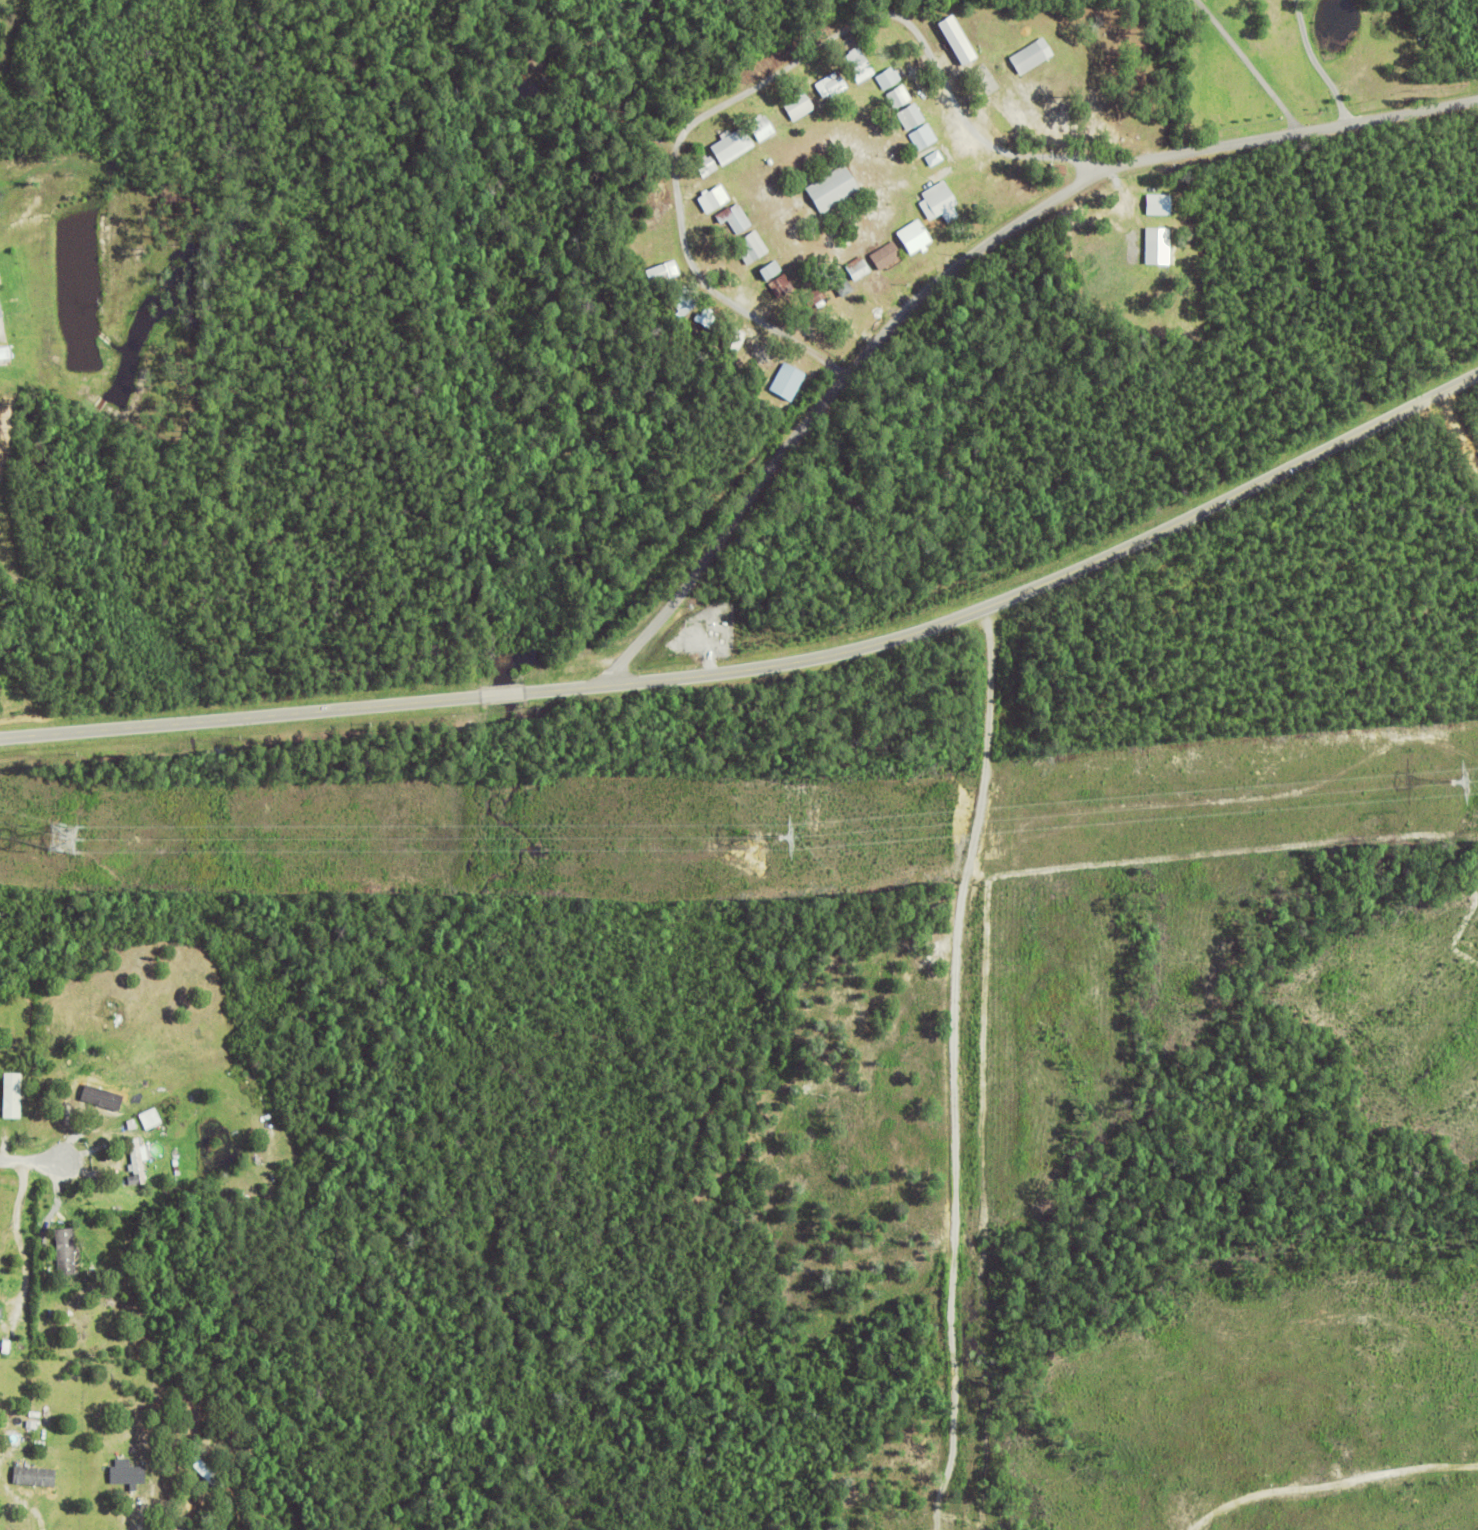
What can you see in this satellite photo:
building: (951, 39)
building: (856, 40)
building: (1029, 60)
building: (860, 66)
road: (1249, 66)
road: (772, 74)
building: (888, 79)
building: (832, 86)
building: (900, 99)
building: (798, 106)
building: (912, 118)
building: (763, 129)
building: (925, 137)
building: (733, 147)
building: (934, 159)
building: (707, 168)
building: (834, 190)
building: (714, 201)
building: (1154, 203)
building: (940, 204)
building: (735, 219)
building: (912, 237)
building: (1153, 244)
building: (751, 249)
building: (885, 257)
road: (961, 266)
building: (765, 269)
building: (669, 270)
building: (858, 270)
building: (841, 283)
building: (782, 287)
building: (815, 298)
building: (686, 301)
building: (2, 305)
building: (705, 320)
building: (735, 341)
building: (7, 351)
building: (767, 355)
building: (788, 384)
road: (1459, 430)
road: (767, 666)
power tower: (1463, 789)
power tower: (782, 839)
power tower: (74, 843)
power tower: (776, 853)
building: (107, 1059)
building: (98, 1085)
building: (13, 1090)
building: (32, 1098)
building: (82, 1101)
building: (27, 1111)
building: (151, 1115)
building: (291, 1141)
building: (146, 1151)
building: (274, 1158)
building: (137, 1160)
road: (33, 1162)
building: (150, 1169)
building: (74, 1251)
building: (1, 1309)
building: (7, 1344)
building: (32, 1424)
building: (205, 1468)
building: (128, 1472)
building: (35, 1473)
building: (247, 1512)

